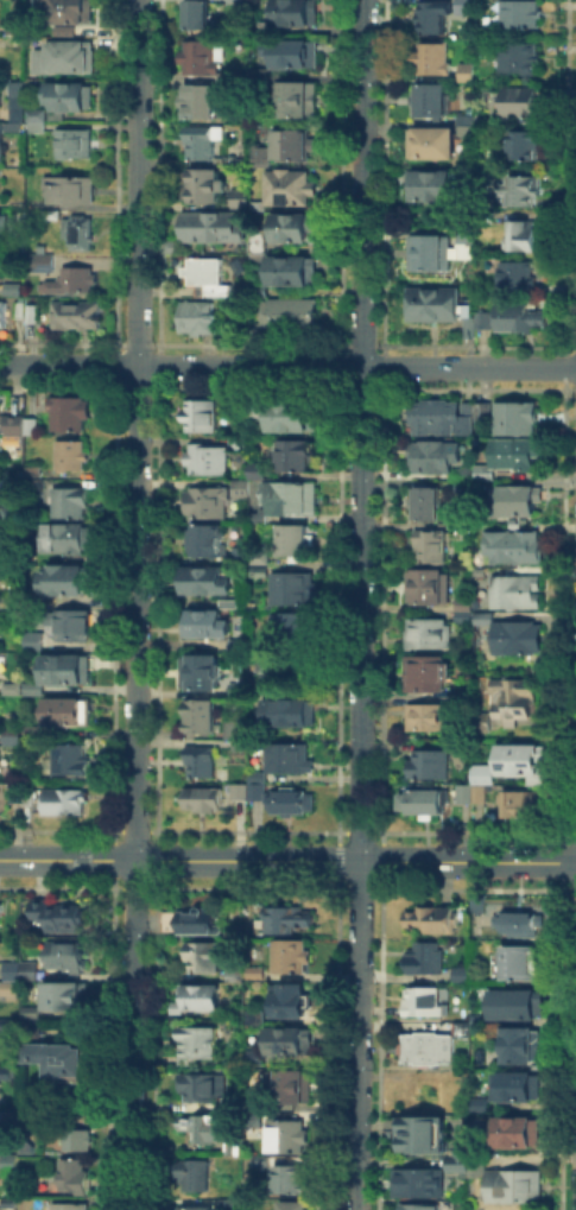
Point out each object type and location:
building: (240, 1)
building: (464, 6)
building: (75, 12)
building: (298, 12)
building: (518, 13)
building: (200, 15)
building: (430, 15)
building: (298, 55)
building: (519, 55)
building: (432, 56)
building: (203, 57)
building: (69, 59)
building: (466, 70)
building: (261, 75)
building: (431, 99)
building: (519, 99)
building: (76, 100)
building: (300, 101)
building: (204, 102)
building: (18, 110)
building: (467, 115)
building: (37, 122)
building: (467, 125)
building: (12, 129)
building: (431, 140)
building: (524, 142)
building: (205, 144)
building: (76, 145)
building: (297, 146)
building: (2, 153)
building: (262, 154)
building: (429, 183)
building: (205, 185)
building: (521, 188)
building: (72, 189)
building: (292, 190)
building: (242, 199)
building: (19, 203)
building: (495, 214)
building: (215, 229)
building: (293, 229)
building: (1, 230)
building: (464, 230)
building: (520, 234)
building: (83, 235)
building: (261, 247)
building: (428, 251)
building: (40, 261)
building: (1, 272)
building: (292, 272)
building: (514, 274)
building: (209, 277)
building: (75, 283)
building: (264, 290)
building: (15, 292)
building: (432, 302)
building: (20, 312)
building: (517, 315)
building: (4, 316)
building: (31, 316)
building: (80, 316)
building: (291, 317)
building: (482, 317)
building: (200, 318)
building: (467, 324)
road: (287, 366)
building: (260, 408)
building: (241, 412)
building: (485, 414)
building: (71, 416)
building: (203, 418)
building: (297, 418)
building: (438, 419)
building: (519, 420)
building: (11, 423)
building: (21, 431)
building: (515, 455)
building: (75, 457)
building: (297, 457)
building: (431, 460)
building: (210, 461)
building: (33, 471)
building: (259, 473)
building: (487, 479)
building: (467, 482)
building: (242, 490)
building: (0, 494)
building: (292, 500)
building: (524, 502)
building: (69, 503)
building: (208, 503)
building: (429, 505)
building: (14, 513)
building: (258, 521)
building: (464, 528)
building: (65, 541)
building: (298, 541)
building: (208, 543)
building: (433, 549)
building: (517, 549)
building: (260, 558)
building: (260, 571)
building: (1, 579)
building: (69, 582)
building: (208, 583)
building: (430, 589)
building: (295, 593)
building: (519, 594)
road: (137, 604)
road: (360, 604)
building: (230, 606)
building: (12, 607)
building: (461, 608)
building: (488, 619)
building: (205, 626)
building: (71, 627)
building: (0, 629)
building: (296, 629)
building: (431, 634)
building: (32, 639)
building: (520, 640)
building: (70, 671)
building: (202, 674)
building: (270, 674)
building: (426, 676)
building: (12, 690)
building: (240, 690)
building: (36, 691)
building: (464, 697)
building: (514, 699)
building: (72, 714)
building: (289, 715)
building: (431, 718)
building: (215, 722)
building: (483, 723)
building: (37, 734)
building: (14, 736)
building: (523, 760)
building: (290, 761)
building: (72, 762)
building: (203, 764)
building: (431, 767)
building: (480, 787)
building: (240, 793)
building: (19, 794)
building: (257, 794)
building: (205, 800)
building: (68, 804)
building: (291, 804)
building: (530, 804)
building: (426, 806)
road: (287, 859)
building: (2, 907)
building: (57, 913)
building: (289, 920)
building: (433, 921)
building: (201, 923)
building: (524, 926)
building: (67, 954)
building: (207, 958)
building: (293, 958)
building: (429, 959)
building: (521, 964)
building: (12, 969)
building: (27, 971)
building: (460, 971)
building: (10, 987)
building: (65, 994)
building: (202, 1001)
building: (293, 1001)
building: (426, 1003)
building: (517, 1006)
building: (31, 1011)
building: (259, 1014)
building: (480, 1020)
building: (6, 1022)
building: (31, 1026)
building: (466, 1031)
building: (295, 1041)
building: (201, 1043)
building: (525, 1047)
building: (432, 1050)
building: (61, 1059)
building: (258, 1059)
building: (7, 1071)
building: (204, 1088)
building: (297, 1088)
building: (519, 1089)
building: (481, 1102)
building: (11, 1114)
building: (255, 1114)
building: (209, 1129)
building: (521, 1134)
building: (424, 1136)
building: (78, 1138)
building: (292, 1138)
building: (11, 1159)
building: (463, 1160)
building: (480, 1167)
building: (75, 1174)
building: (200, 1176)
building: (296, 1180)
building: (422, 1184)
building: (518, 1186)
building: (11, 1201)
building: (72, 1205)
building: (419, 1205)
building: (240, 1206)
building: (299, 1206)
building: (197, 1208)

